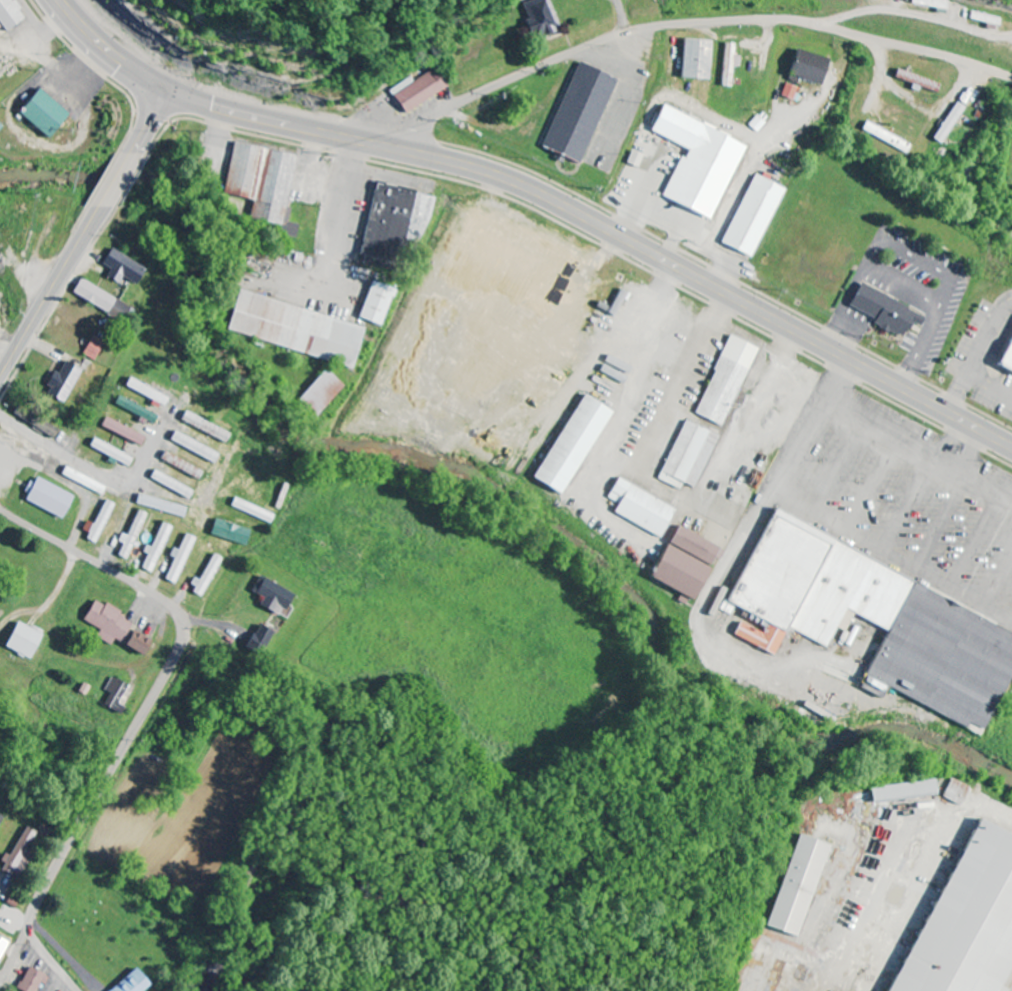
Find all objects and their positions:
building: (935, 4)
building: (8, 15)
building: (540, 19)
building: (987, 19)
road: (697, 23)
road: (110, 51)
building: (697, 60)
building: (731, 65)
building: (809, 67)
building: (917, 82)
building: (422, 90)
traffic signals: (169, 91)
building: (790, 92)
building: (40, 114)
building: (579, 114)
road: (151, 122)
building: (948, 123)
building: (885, 138)
building: (697, 163)
road: (117, 180)
building: (262, 186)
building: (753, 217)
building: (393, 223)
road: (605, 228)
building: (43, 237)
building: (121, 268)
road: (50, 291)
building: (100, 301)
building: (617, 304)
building: (374, 305)
building: (885, 312)
building: (295, 330)
building: (91, 348)
building: (1008, 359)
building: (725, 382)
building: (61, 383)
building: (145, 393)
building: (318, 394)
building: (134, 410)
building: (203, 428)
building: (121, 432)
building: (570, 446)
building: (193, 448)
building: (109, 453)
building: (686, 457)
building: (81, 482)
building: (170, 485)
river: (481, 487)
building: (46, 499)
building: (160, 506)
building: (639, 509)
building: (251, 512)
building: (96, 525)
building: (228, 533)
building: (130, 537)
building: (155, 549)
building: (178, 560)
building: (683, 565)
road: (104, 567)
building: (783, 569)
building: (205, 575)
building: (853, 594)
building: (270, 598)
building: (104, 624)
building: (763, 636)
building: (259, 640)
building: (21, 641)
building: (135, 644)
building: (948, 658)
building: (113, 695)
building: (901, 791)
building: (955, 792)
road: (86, 810)
building: (0, 818)
building: (15, 852)
building: (797, 885)
road: (3, 890)
building: (965, 920)
building: (2, 945)
road: (51, 960)
building: (203, 977)
building: (30, 980)
building: (131, 982)

